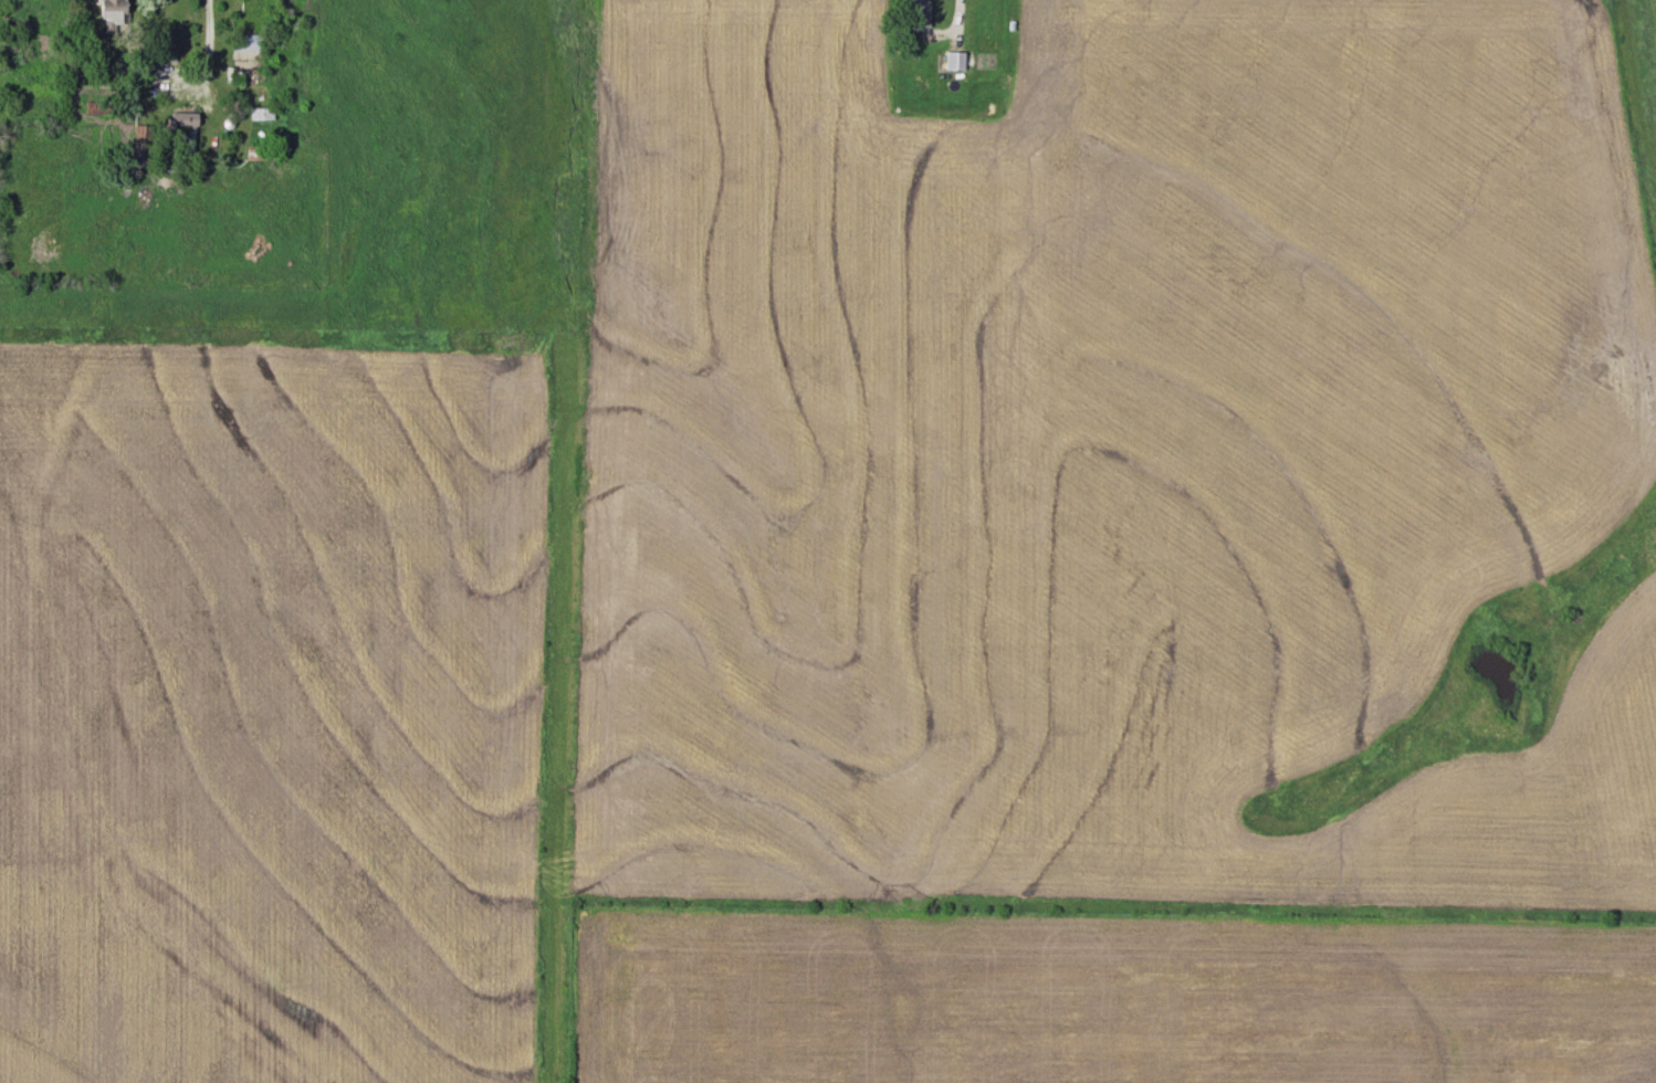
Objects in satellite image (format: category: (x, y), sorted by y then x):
building: (113, 12)
building: (919, 14)
building: (247, 44)
road: (207, 62)
building: (955, 62)
building: (262, 116)
building: (185, 124)
crop: (1105, 1000)

